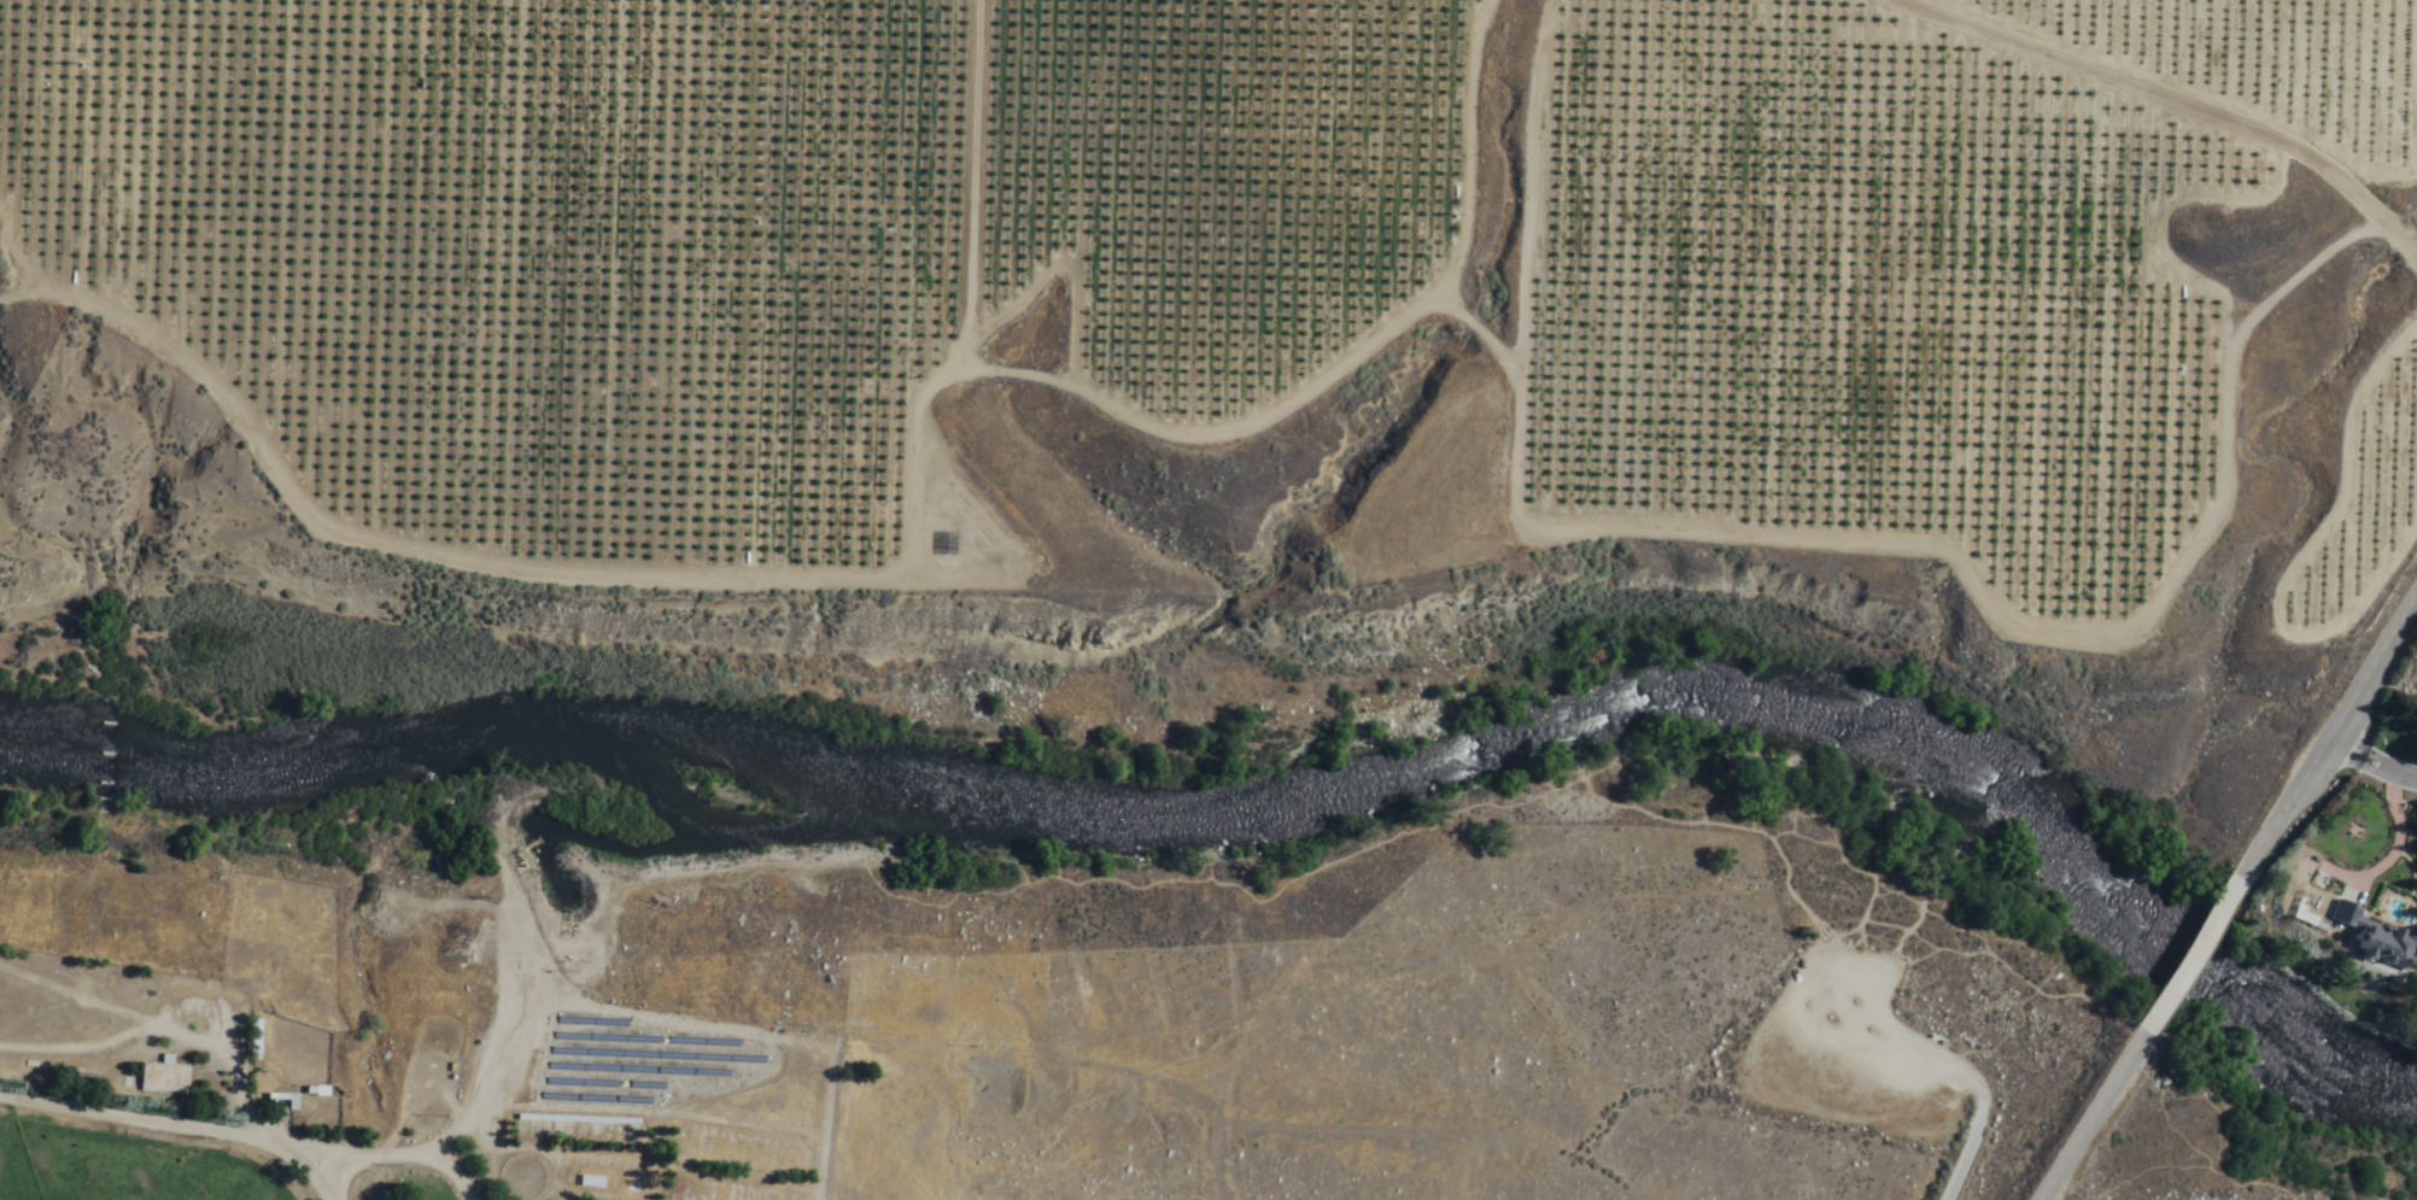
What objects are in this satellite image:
road: (2150, 105)
crop: (1188, 245)
crop: (90, 608)
road: (18, 655)
crop: (402, 677)
crop: (1116, 684)
road: (2318, 749)
road: (2370, 761)
river: (1457, 765)
river: (186, 775)
road: (2395, 839)
building: (2375, 936)
parking lot: (1884, 1052)
building: (165, 1079)
building: (121, 1085)
road: (2096, 1105)
road: (198, 1120)
crop: (142, 1170)

